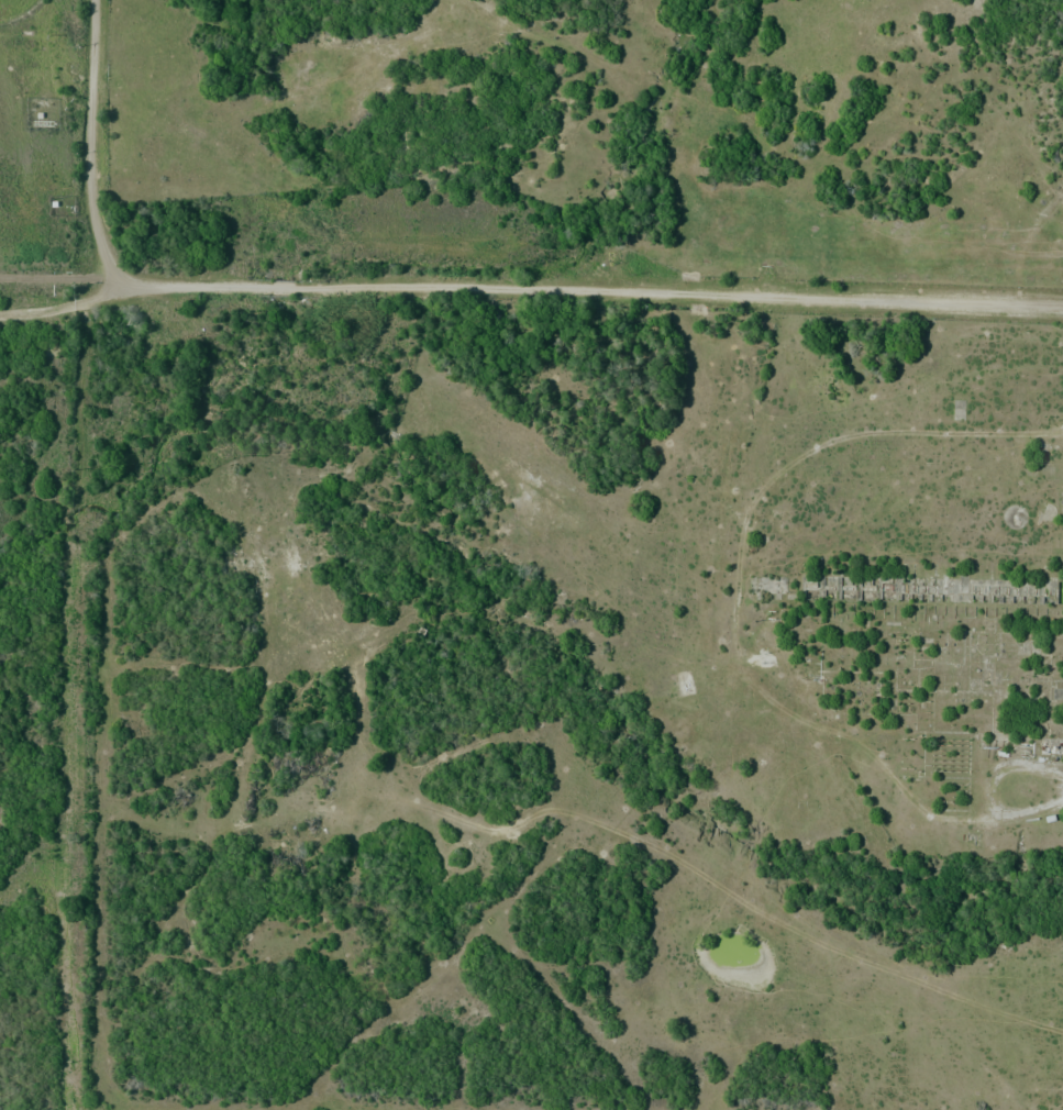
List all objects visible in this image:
road: (21, 14)
road: (93, 160)
road: (530, 291)

